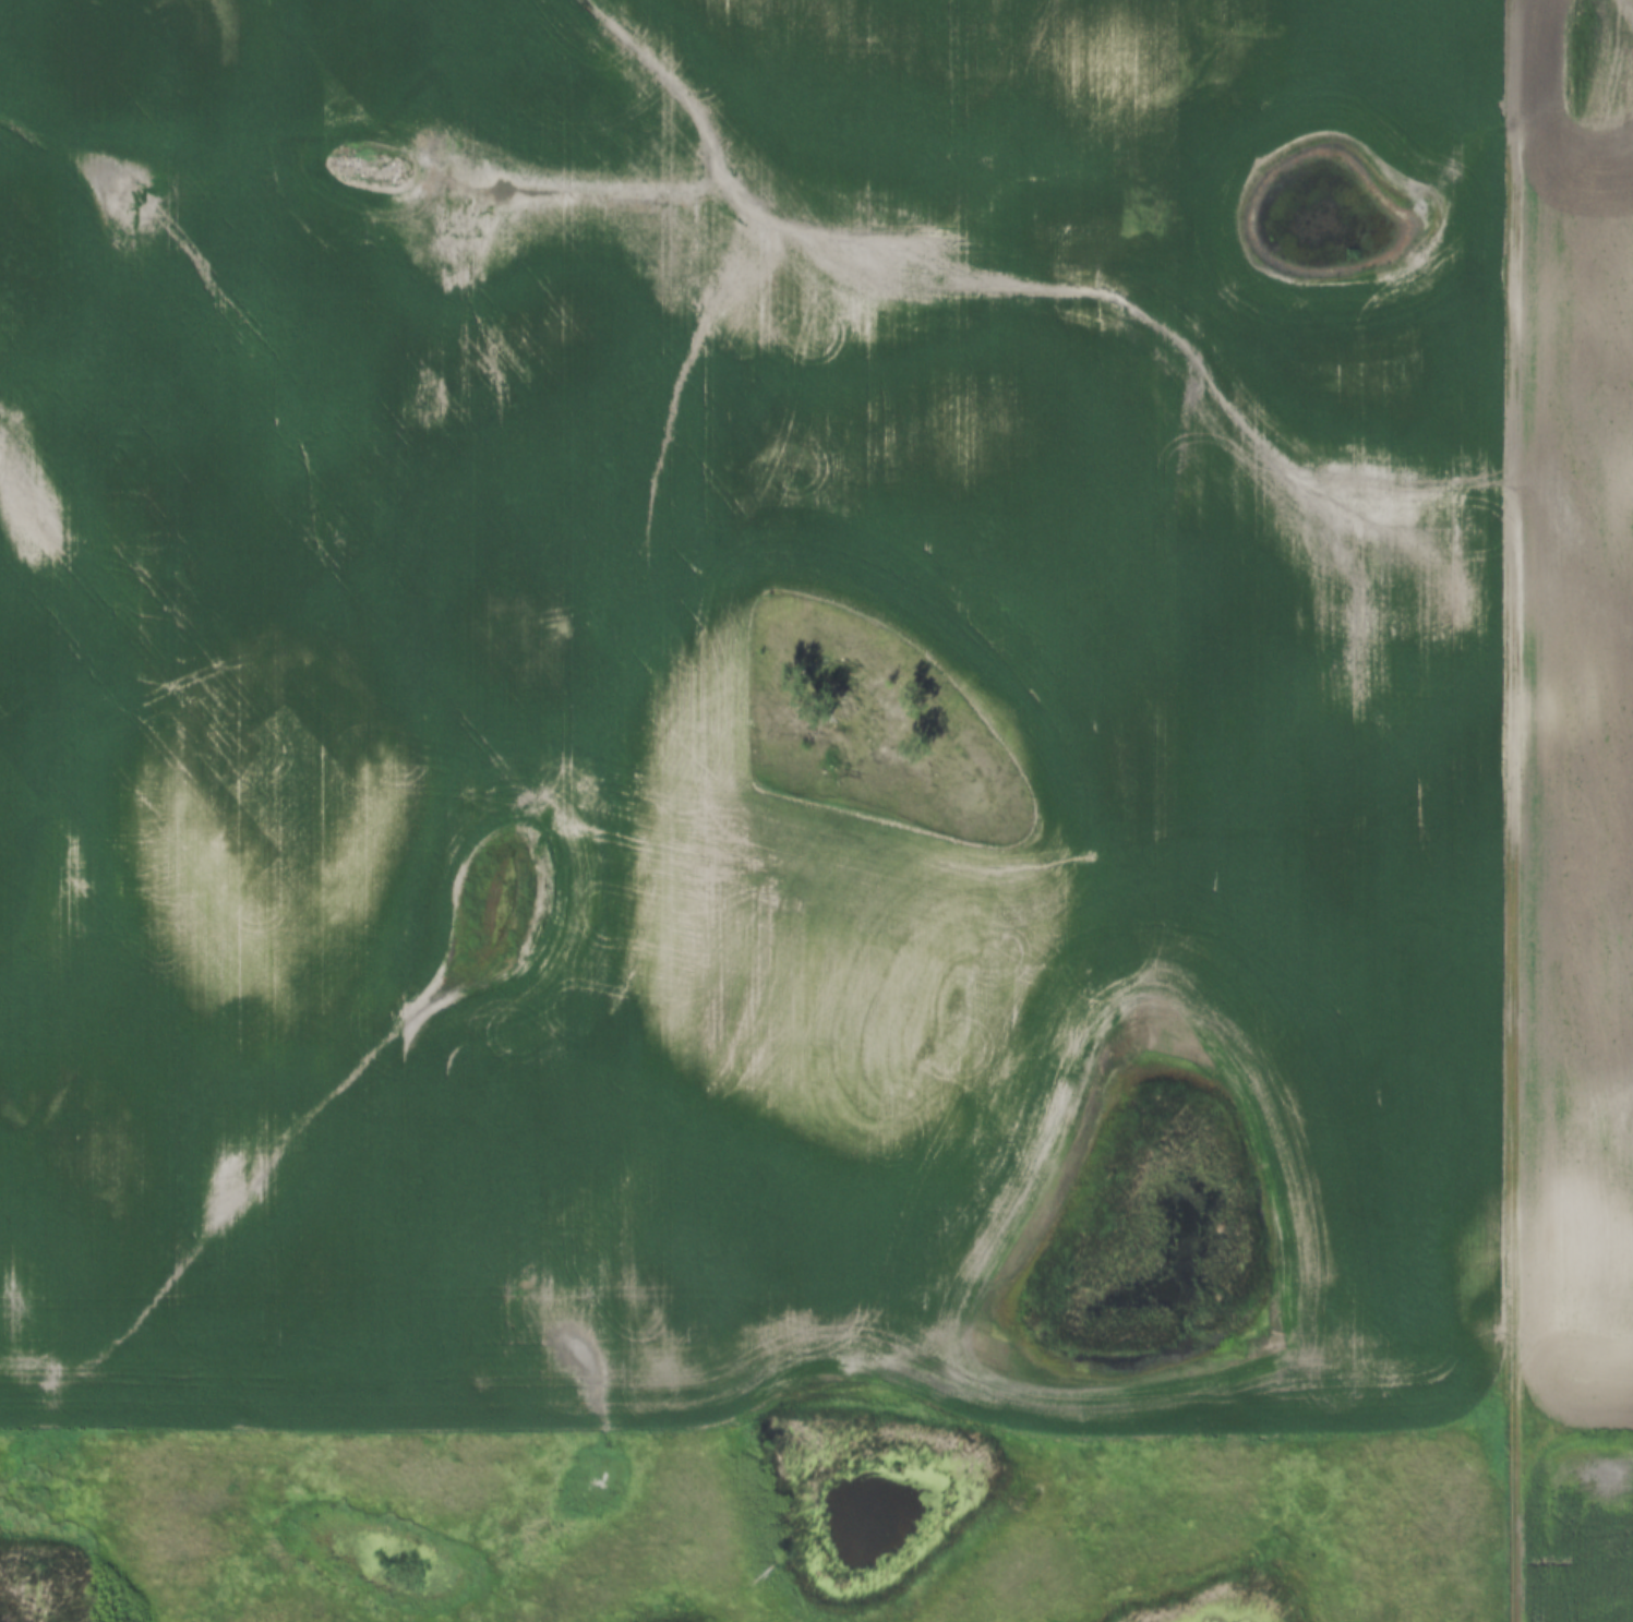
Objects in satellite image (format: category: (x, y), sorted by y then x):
road: (1512, 810)

